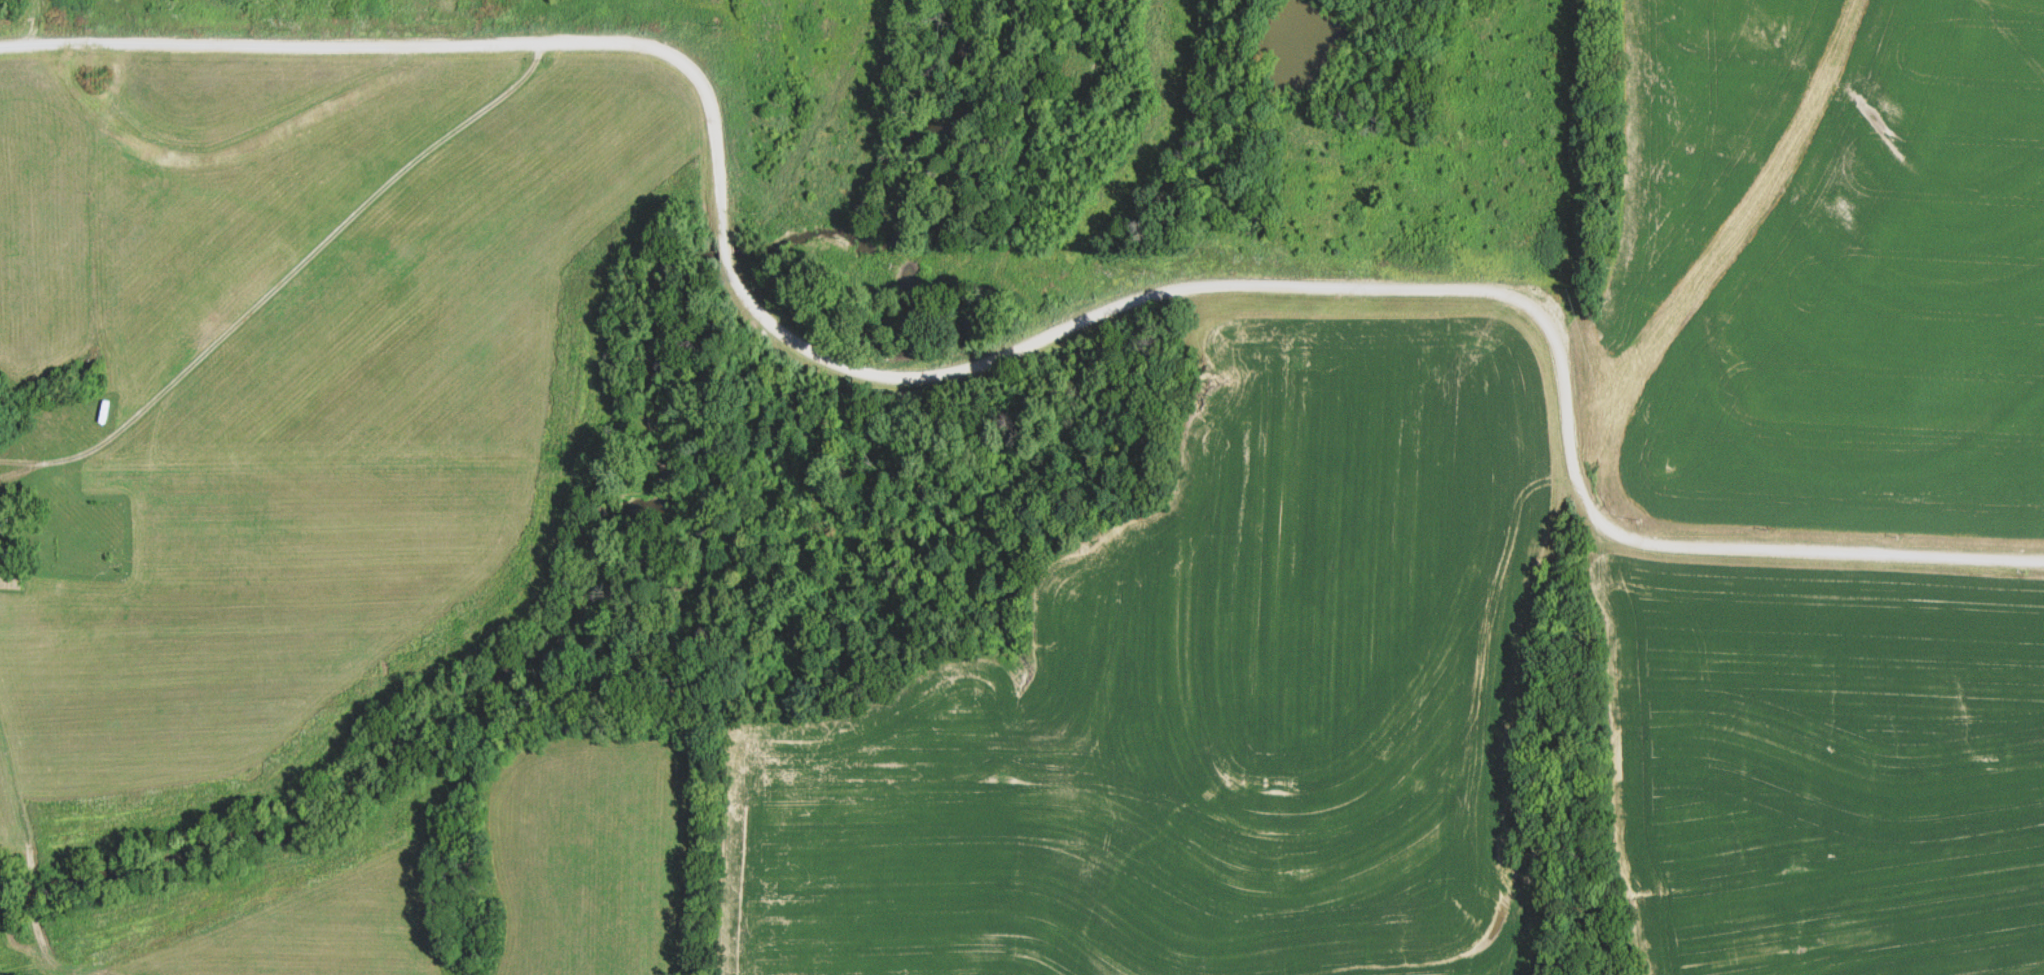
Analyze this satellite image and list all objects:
road: (279, 273)
road: (1005, 353)
building: (4, 520)

